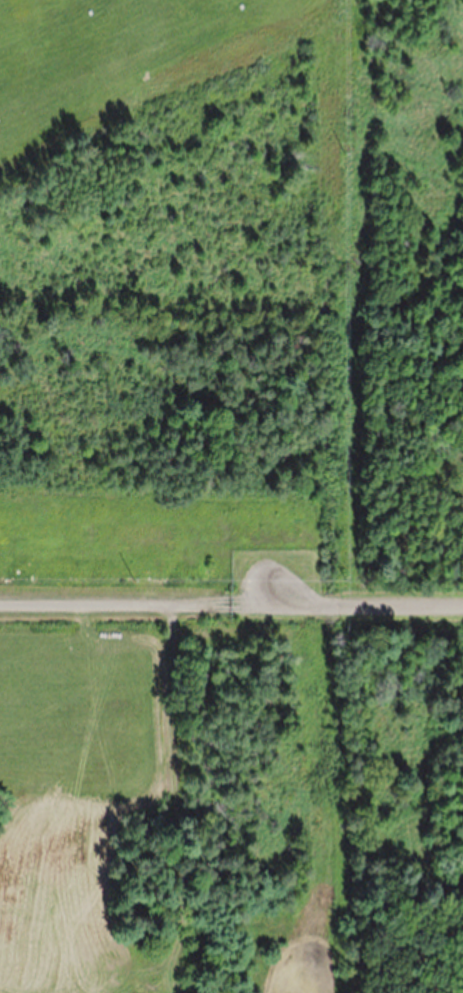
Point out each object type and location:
landfill: (231, 496)
road: (231, 604)
road: (177, 745)

